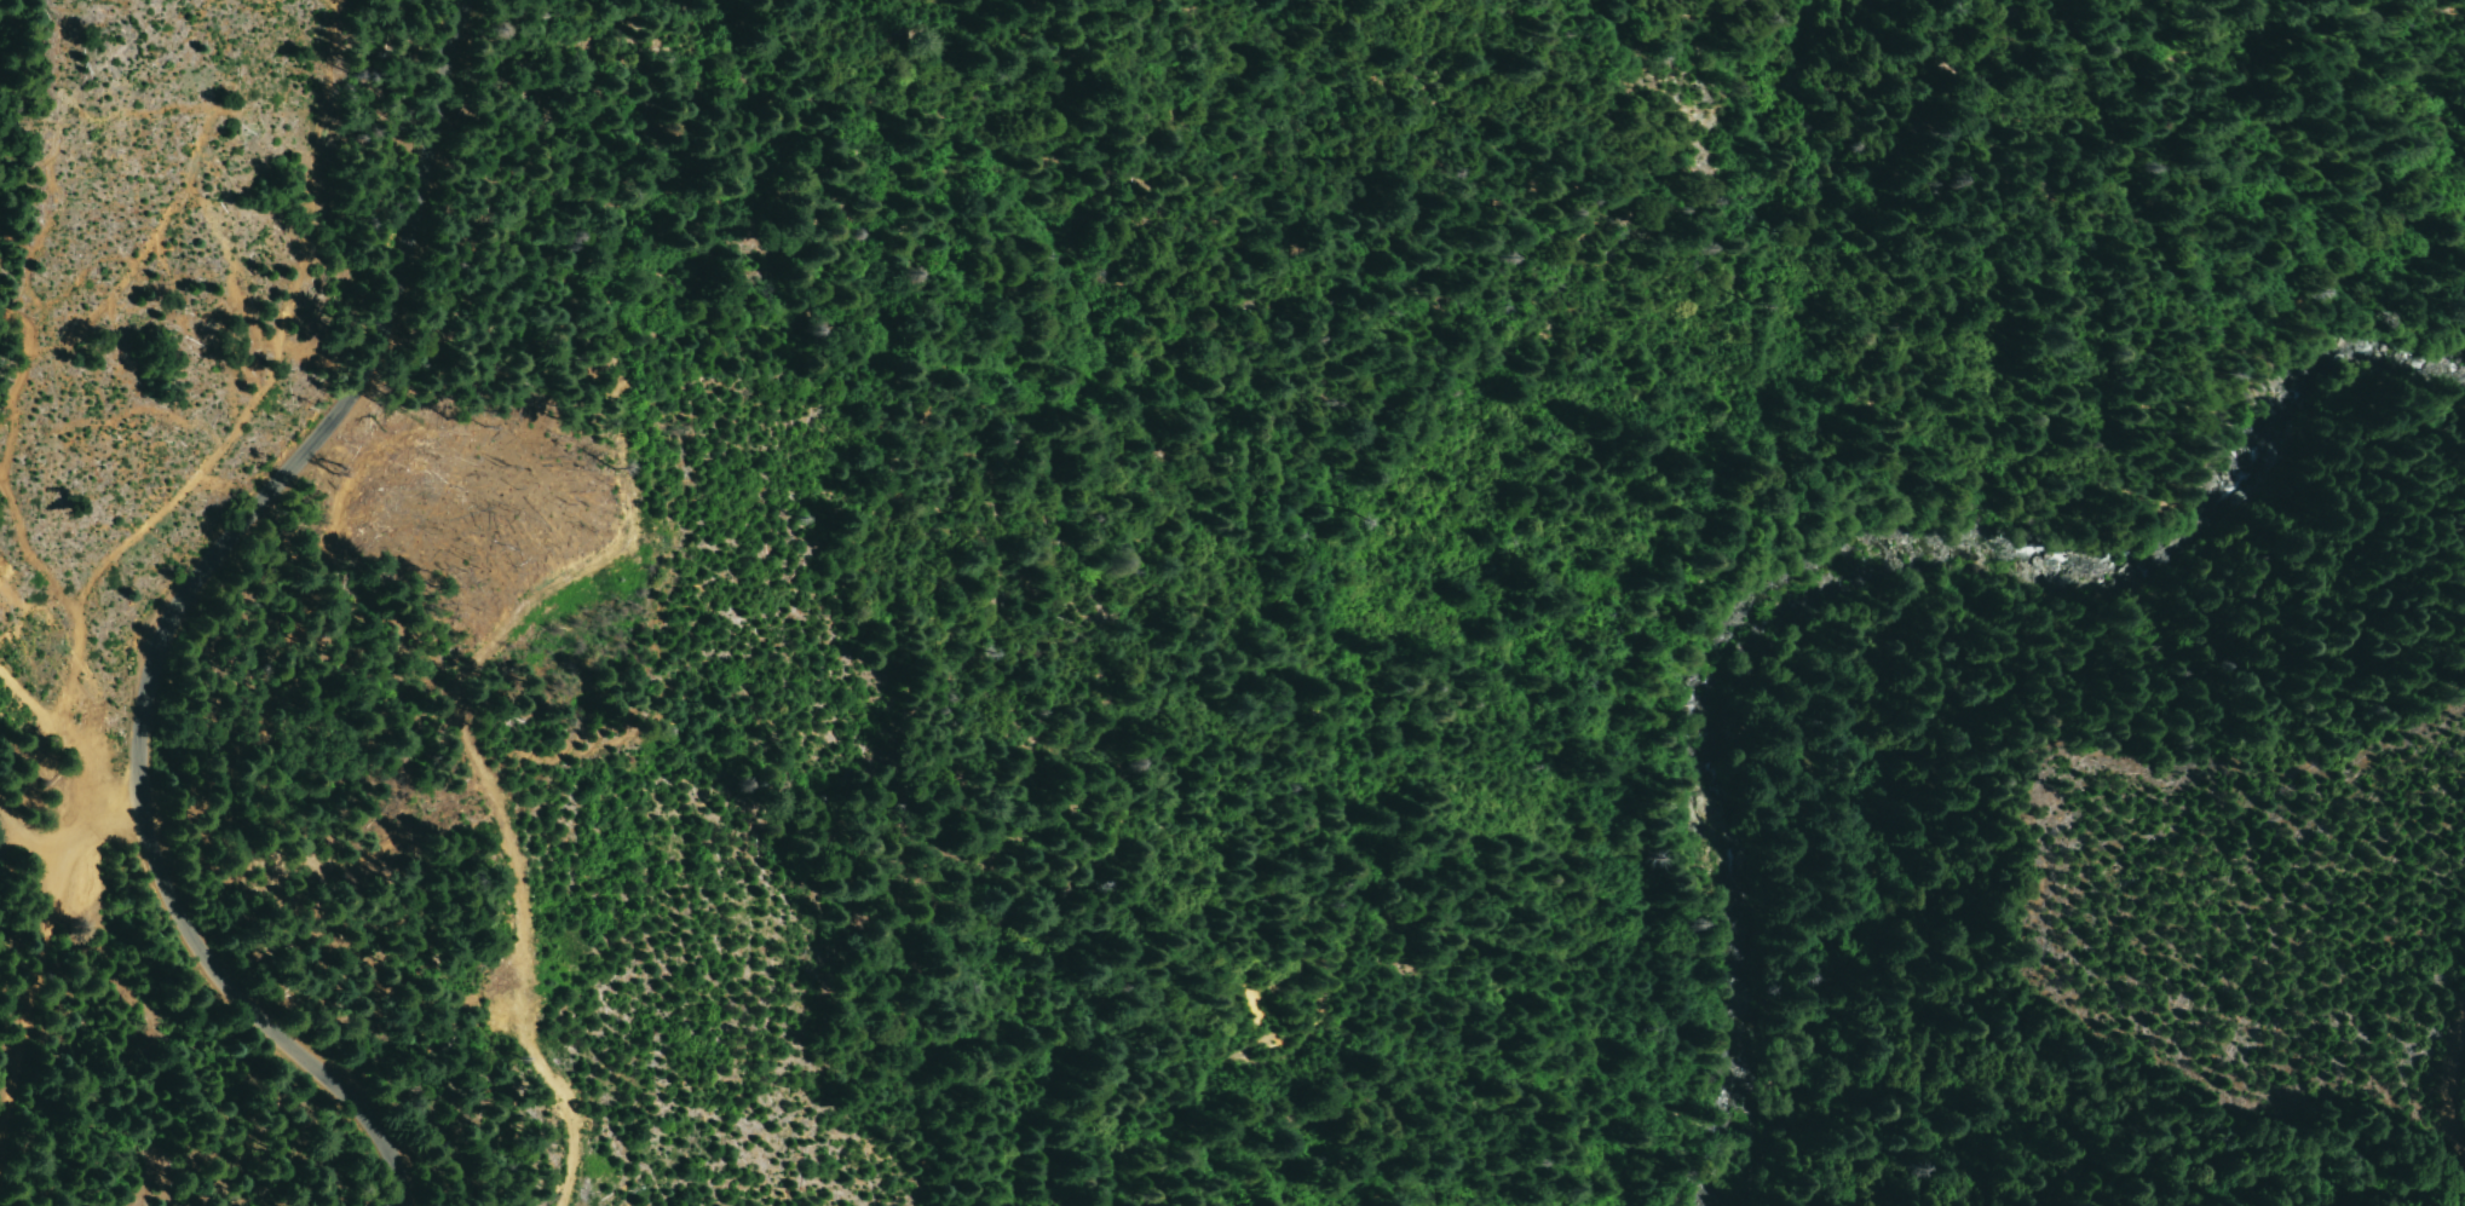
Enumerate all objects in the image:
road: (328, 427)
road: (64, 738)
road: (97, 827)
road: (30, 830)
river: (1709, 873)
road: (31, 989)
road: (259, 1016)

